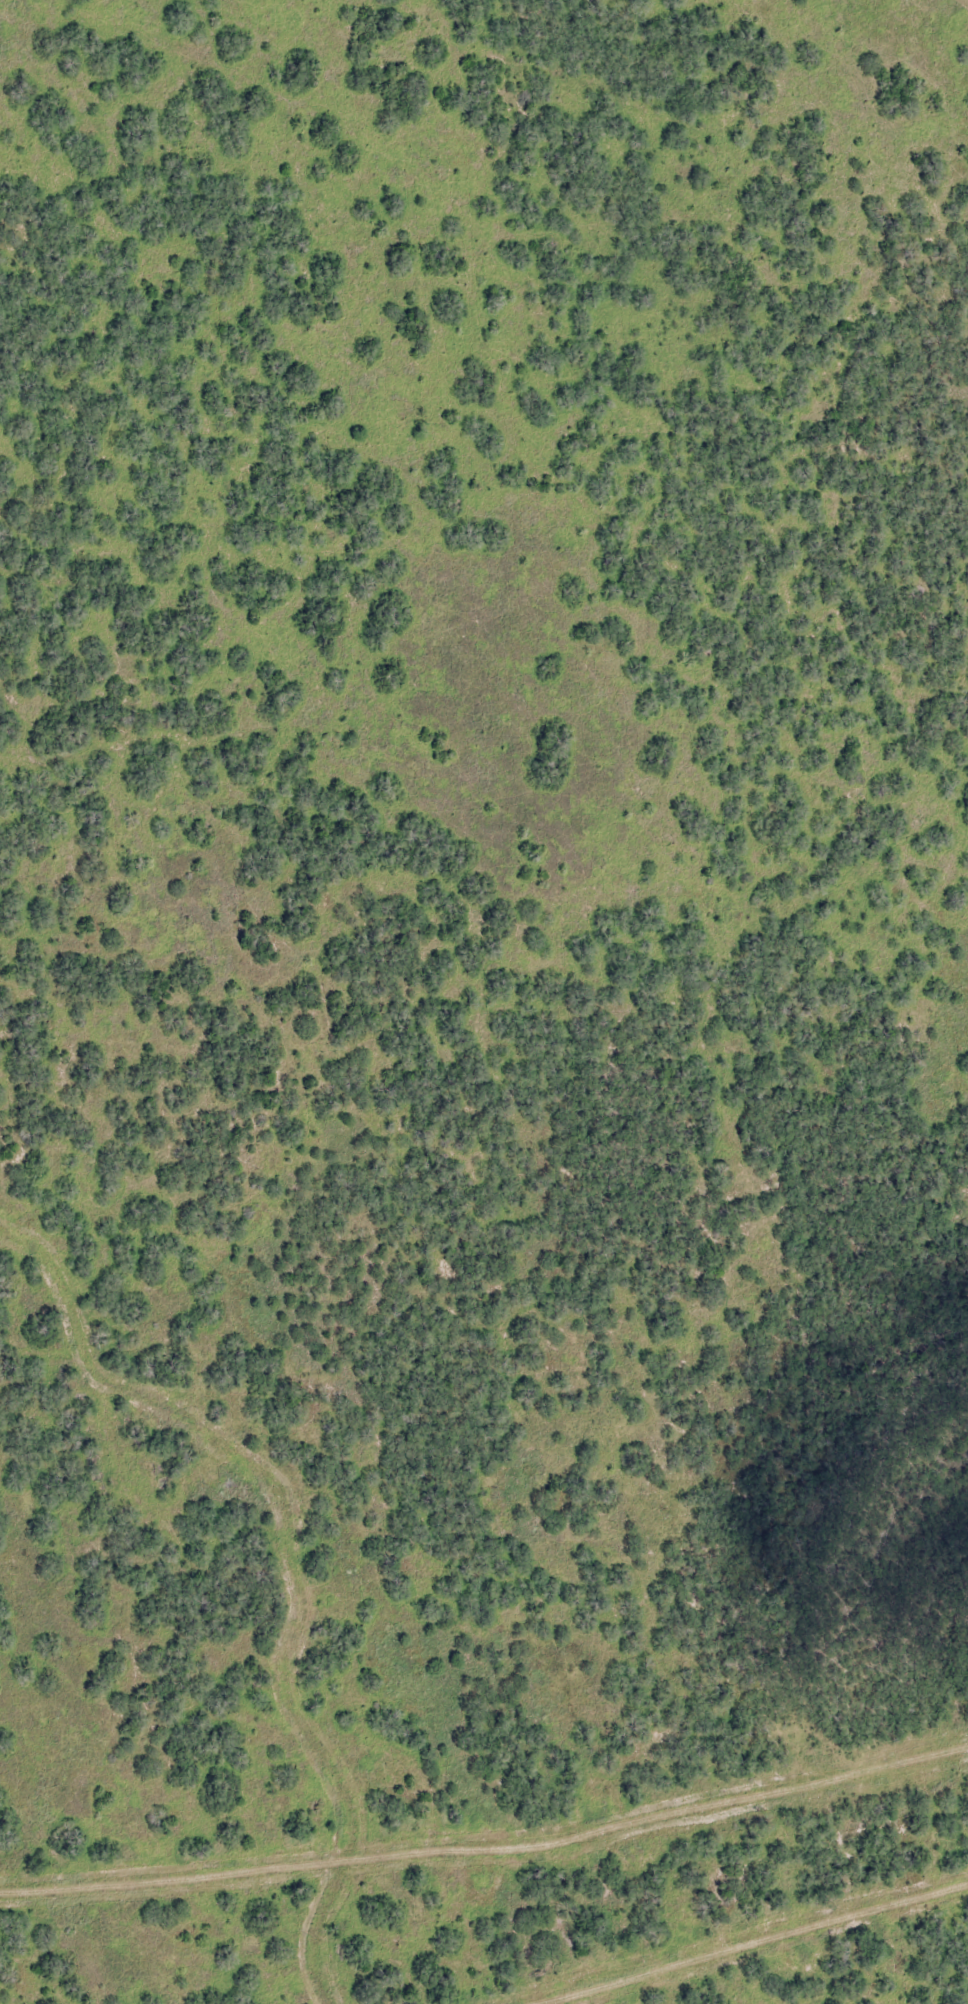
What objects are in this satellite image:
road: (483, 1853)

